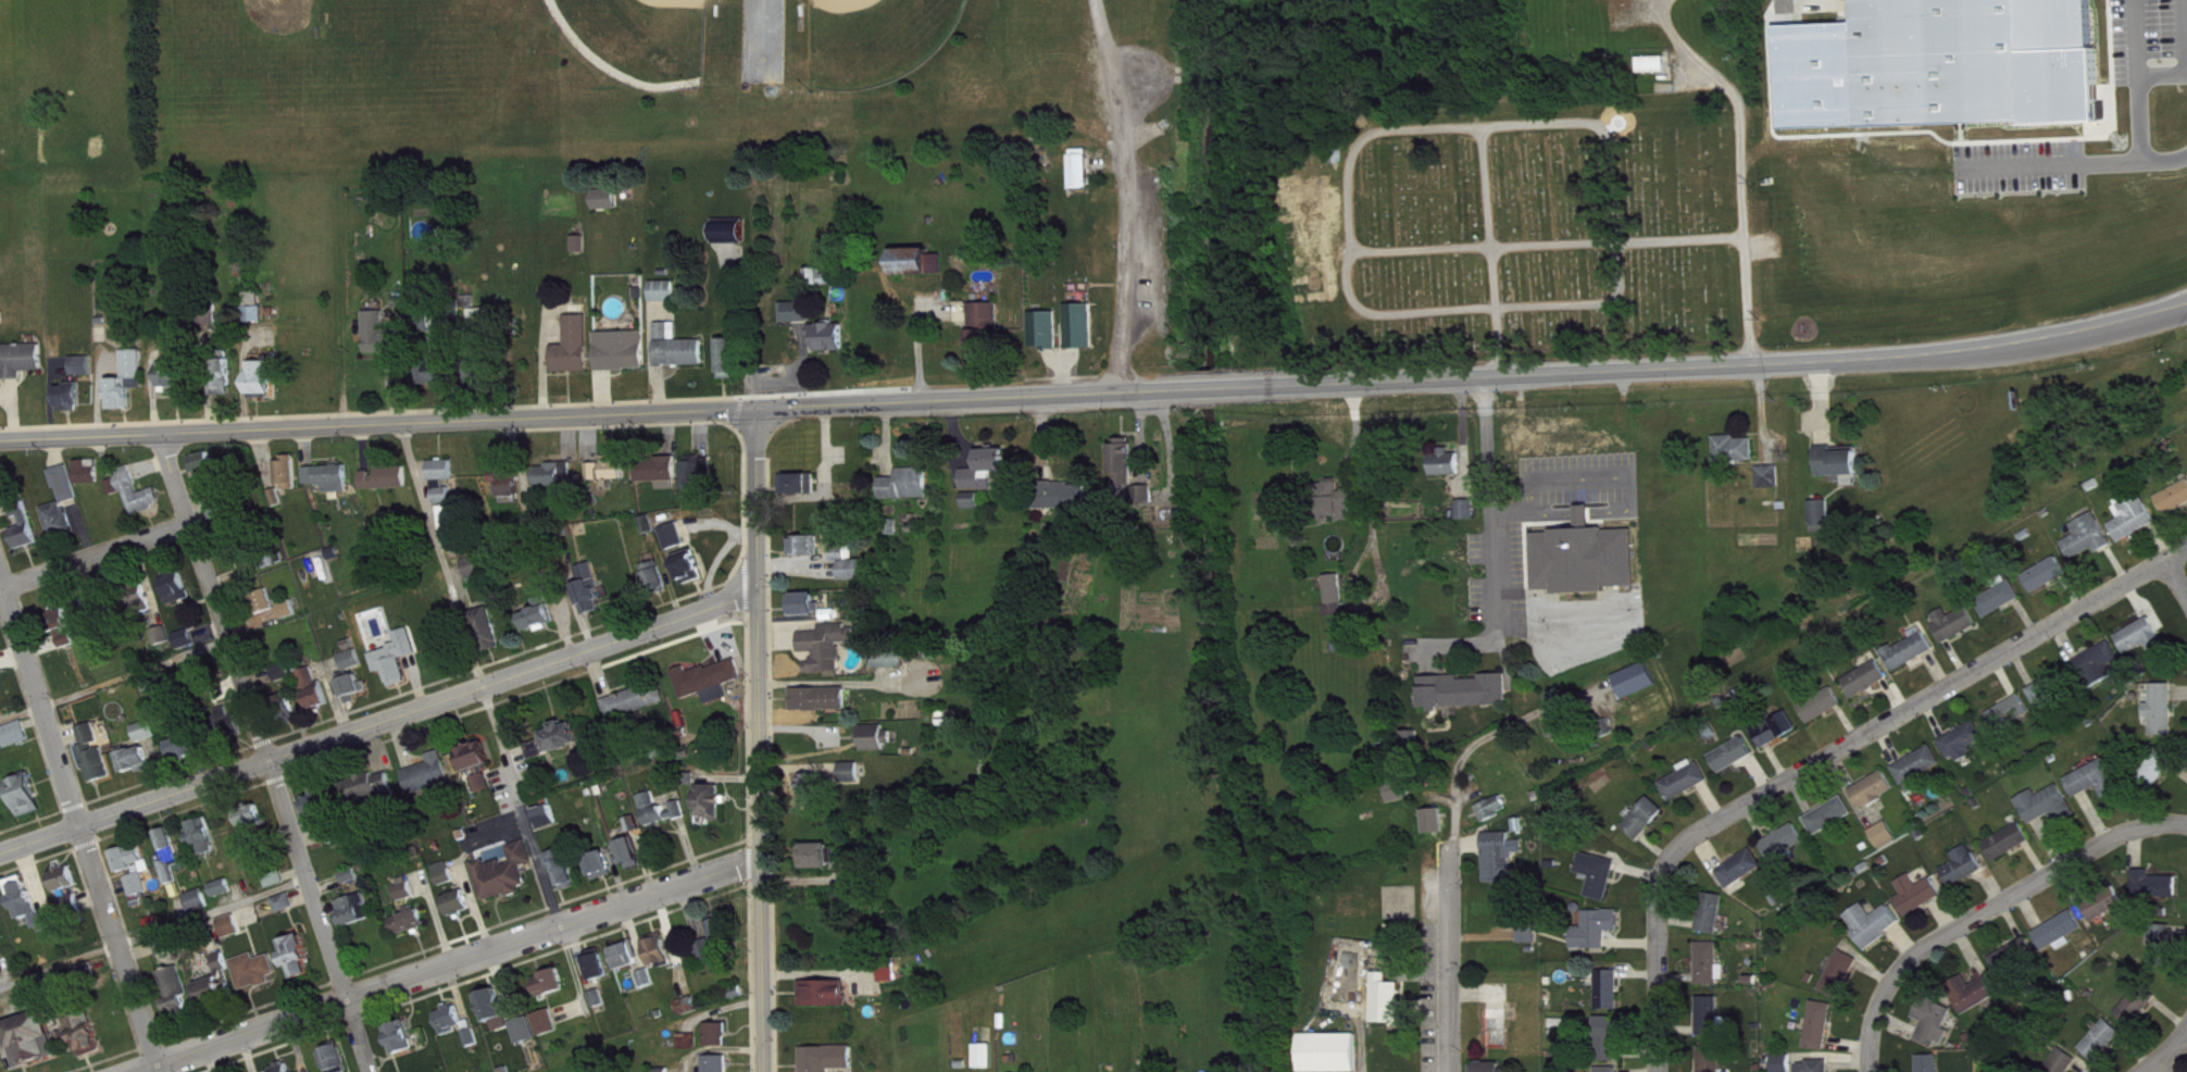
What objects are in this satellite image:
road: (1660, 3)
road: (1663, 3)
park: (641, 36)
park: (876, 39)
road: (2185, 54)
building: (1979, 66)
park: (628, 72)
building: (1655, 72)
park: (243, 75)
road: (2142, 107)
road: (1479, 125)
road: (1739, 170)
road: (2055, 174)
building: (1084, 179)
road: (1137, 194)
park: (1548, 204)
building: (609, 207)
building: (727, 228)
building: (733, 238)
road: (1551, 244)
road: (1490, 250)
building: (579, 252)
building: (920, 270)
building: (825, 285)
building: (665, 299)
building: (250, 303)
road: (1480, 306)
building: (254, 314)
building: (476, 317)
building: (420, 319)
building: (799, 320)
road: (740, 323)
building: (382, 334)
building: (1083, 334)
building: (988, 336)
building: (1047, 338)
building: (832, 345)
building: (576, 354)
building: (20, 356)
building: (679, 356)
building: (725, 357)
road: (457, 359)
building: (624, 359)
building: (80, 363)
road: (503, 364)
road: (1713, 364)
building: (220, 370)
building: (435, 371)
building: (480, 371)
road: (242, 373)
building: (85, 374)
building: (259, 374)
building: (171, 375)
building: (125, 377)
road: (208, 379)
building: (442, 382)
building: (225, 385)
building: (176, 386)
road: (1199, 387)
road: (396, 388)
road: (51, 390)
road: (153, 391)
building: (67, 396)
road: (958, 397)
road: (12, 406)
road: (301, 413)
road: (376, 421)
road: (622, 422)
road: (305, 445)
road: (363, 445)
road: (54, 449)
road: (103, 454)
road: (263, 457)
building: (1737, 457)
road: (517, 459)
building: (202, 464)
road: (151, 468)
building: (86, 469)
building: (285, 469)
building: (1448, 470)
building: (1841, 473)
building: (326, 474)
building: (384, 474)
building: (504, 477)
building: (988, 477)
building: (1132, 478)
building: (62, 479)
building: (90, 479)
building: (610, 479)
building: (661, 479)
building: (700, 482)
building: (111, 483)
building: (558, 483)
building: (1771, 485)
building: (330, 486)
building: (388, 486)
building: (135, 489)
building: (442, 491)
building: (801, 491)
road: (198, 493)
building: (909, 493)
road: (742, 494)
building: (115, 495)
building: (273, 495)
road: (755, 497)
building: (1066, 503)
road: (1487, 503)
building: (216, 506)
building: (2175, 507)
road: (4, 508)
building: (974, 509)
building: (1344, 510)
building: (57, 518)
building: (218, 518)
building: (1470, 518)
building: (645, 522)
building: (21, 524)
building: (1822, 524)
road: (80, 525)
building: (452, 526)
building: (2135, 526)
building: (650, 532)
building: (26, 535)
building: (239, 537)
building: (676, 544)
building: (2089, 546)
road: (161, 548)
road: (95, 552)
building: (809, 553)
building: (262, 558)
building: (845, 561)
building: (472, 566)
building: (1586, 566)
road: (233, 570)
road: (664, 572)
building: (691, 574)
building: (652, 576)
building: (476, 577)
building: (858, 578)
road: (146, 582)
building: (172, 583)
building: (2048, 583)
road: (2173, 583)
road: (66, 585)
road: (743, 587)
building: (135, 594)
building: (591, 595)
building: (260, 597)
road: (198, 599)
building: (1337, 602)
building: (284, 606)
building: (2002, 607)
building: (265, 609)
road: (183, 611)
building: (805, 612)
road: (250, 616)
building: (88, 618)
building: (289, 618)
building: (58, 624)
building: (483, 625)
road: (207, 627)
building: (158, 632)
building: (1955, 632)
building: (182, 635)
building: (162, 644)
road: (39, 645)
building: (2144, 645)
building: (68, 647)
building: (186, 647)
building: (95, 650)
road: (11, 653)
building: (828, 655)
building: (391, 656)
building: (348, 657)
building: (1913, 658)
building: (892, 666)
building: (353, 668)
road: (41, 669)
building: (278, 669)
building: (396, 669)
building: (2103, 670)
building: (193, 671)
road: (478, 673)
road: (257, 676)
road: (113, 678)
building: (147, 680)
road: (415, 680)
building: (284, 681)
building: (349, 683)
building: (310, 685)
building: (711, 688)
building: (1639, 688)
building: (1867, 688)
road: (337, 691)
road: (330, 694)
building: (1465, 699)
building: (2050, 699)
road: (372, 701)
road: (1926, 701)
building: (283, 706)
building: (823, 707)
building: (637, 709)
building: (1824, 713)
road: (29, 714)
road: (253, 714)
road: (8, 719)
road: (378, 721)
building: (2011, 721)
building: (224, 722)
building: (140, 727)
road: (747, 728)
building: (12, 731)
road: (63, 735)
building: (1778, 737)
building: (1564, 738)
building: (146, 739)
road: (400, 739)
building: (16, 743)
road: (372, 743)
building: (183, 745)
building: (566, 745)
building: (877, 746)
road: (373, 748)
building: (1967, 748)
building: (90, 750)
building: (473, 750)
road: (1462, 753)
building: (187, 755)
building: (541, 757)
building: (132, 758)
building: (1735, 763)
road: (155, 764)
building: (476, 764)
road: (770, 764)
building: (137, 768)
building: (426, 770)
road: (499, 772)
building: (1921, 773)
building: (480, 778)
building: (852, 781)
building: (367, 784)
building: (2097, 787)
building: (1688, 788)
building: (485, 790)
building: (811, 791)
building: (23, 793)
building: (373, 796)
building: (317, 797)
building: (1876, 798)
building: (1401, 799)
road: (296, 805)
building: (712, 809)
building: (250, 811)
building: (321, 811)
building: (2049, 813)
building: (1496, 817)
building: (0, 818)
building: (655, 818)
building: (679, 819)
building: (549, 824)
building: (1832, 824)
building: (253, 825)
building: (334, 826)
building: (1647, 826)
road: (80, 827)
building: (1436, 828)
building: (201, 830)
road: (275, 831)
road: (758, 831)
road: (310, 834)
building: (251, 837)
building: (1887, 844)
building: (166, 849)
building: (1786, 849)
building: (2010, 850)
building: (126, 852)
building: (814, 855)
road: (749, 860)
building: (634, 861)
building: (597, 862)
road: (613, 864)
building: (1500, 865)
building: (502, 868)
building: (134, 869)
road: (292, 869)
building: (442, 869)
building: (348, 871)
building: (61, 873)
building: (603, 873)
building: (273, 874)
building: (1965, 874)
road: (33, 875)
building: (1744, 876)
building: (567, 877)
road: (324, 878)
road: (803, 878)
building: (135, 880)
building: (446, 881)
building: (863, 881)
building: (221, 883)
building: (1600, 883)
building: (352, 884)
building: (403, 886)
building: (65, 887)
building: (276, 887)
road: (102, 889)
building: (139, 893)
road: (301, 893)
building: (2157, 893)
building: (196, 896)
building: (224, 896)
building: (407, 896)
road: (225, 897)
building: (282, 898)
building: (455, 898)
building: (27, 899)
building: (68, 900)
road: (183, 900)
road: (473, 900)
road: (179, 902)
building: (1920, 902)
building: (353, 905)
building: (199, 907)
road: (1991, 909)
road: (213, 910)
building: (72, 911)
road: (245, 911)
building: (286, 911)
building: (460, 911)
building: (2105, 912)
road: (436, 913)
building: (408, 917)
building: (358, 918)
building: (228, 921)
building: (1714, 921)
building: (411, 928)
road: (211, 932)
building: (1875, 933)
building: (230, 934)
building: (726, 936)
road: (128, 937)
building: (1598, 937)
building: (2061, 939)
building: (163, 940)
building: (1530, 940)
road: (105, 946)
road: (139, 949)
building: (296, 951)
building: (166, 953)
building: (2163, 953)
road: (405, 955)
building: (1, 957)
building: (661, 957)
road: (1448, 957)
building: (708, 958)
road: (59, 962)
building: (629, 963)
road: (442, 964)
building: (252, 965)
road: (1658, 965)
building: (2017, 965)
building: (85, 967)
building: (1712, 972)
building: (600, 973)
building: (550, 976)
road: (472, 977)
road: (751, 977)
road: (1, 978)
building: (215, 978)
road: (577, 978)
road: (502, 982)
building: (891, 982)
building: (1842, 983)
building: (649, 986)
building: (174, 987)
building: (553, 992)
road: (459, 994)
building: (214, 998)
building: (1611, 998)
building: (1976, 1000)
building: (827, 1001)
building: (493, 1004)
building: (601, 1007)
building: (1389, 1007)
building: (691, 1013)
building: (449, 1014)
building: (2137, 1014)
building: (546, 1017)
building: (1712, 1024)
building: (523, 1025)
building: (86, 1027)
building: (453, 1027)
building: (1936, 1030)
building: (549, 1031)
building: (399, 1032)
building: (504, 1032)
building: (471, 1033)
building: (1822, 1034)
road: (359, 1035)
building: (526, 1038)
building: (718, 1043)
road: (296, 1045)
building: (474, 1046)
building: (1609, 1047)
building: (2103, 1048)
building: (691, 1049)
road: (248, 1051)
road: (2166, 1051)
building: (335, 1054)
building: (1333, 1057)
building: (987, 1062)
building: (830, 1063)
building: (1713, 1063)
building: (280, 1065)
building: (2065, 1065)
building: (1785, 1067)
building: (1932, 1067)
building: (718, 1068)
building: (1816, 1070)
building: (1490, 1071)

